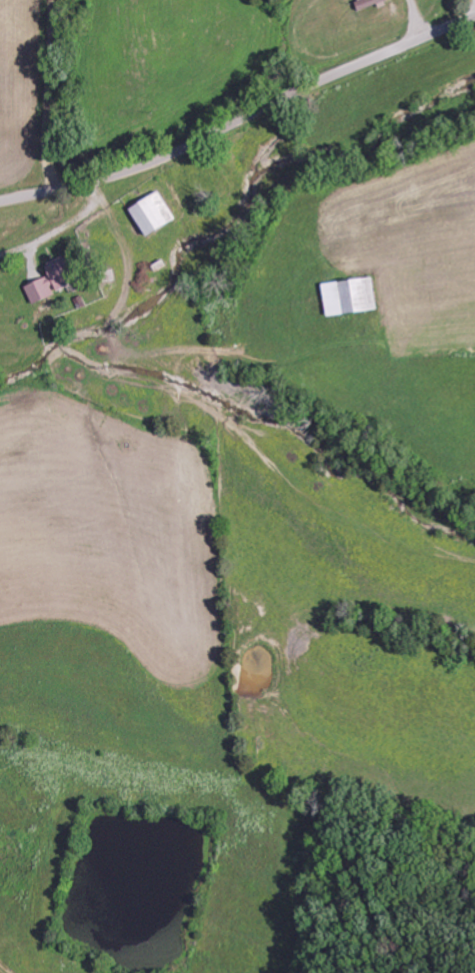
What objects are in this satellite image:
building: (362, 3)
road: (241, 119)
building: (148, 212)
building: (48, 281)
building: (346, 295)

